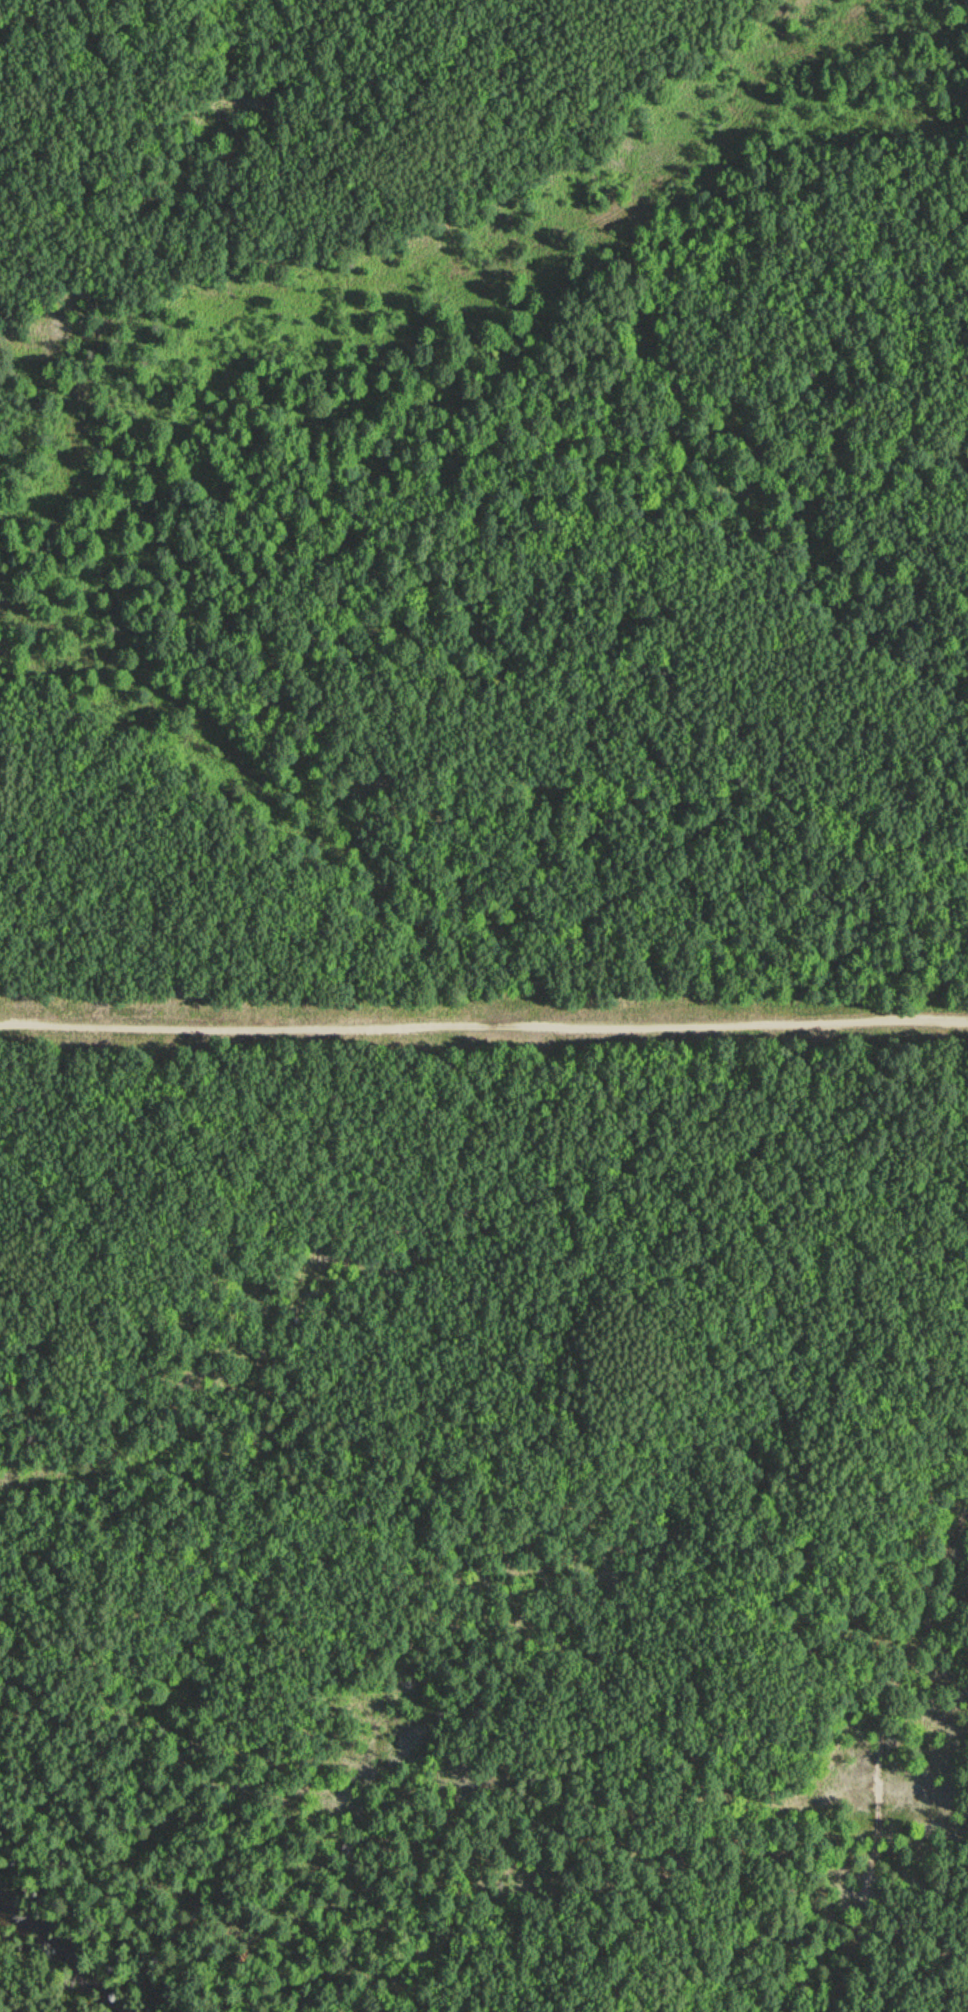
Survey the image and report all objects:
road: (484, 1026)
road: (882, 1755)

